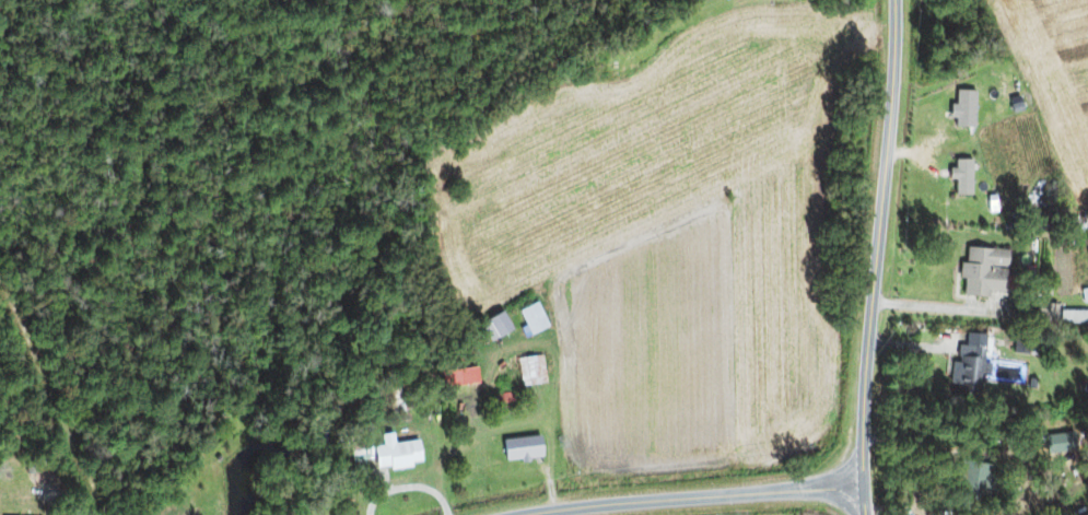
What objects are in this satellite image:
building: (1041, 220)
road: (874, 257)
building: (983, 271)
building: (1044, 313)
building: (1073, 316)
building: (531, 318)
building: (1026, 344)
building: (968, 365)
building: (530, 371)
building: (1063, 442)
building: (520, 447)
building: (394, 453)
building: (970, 475)
road: (695, 498)

